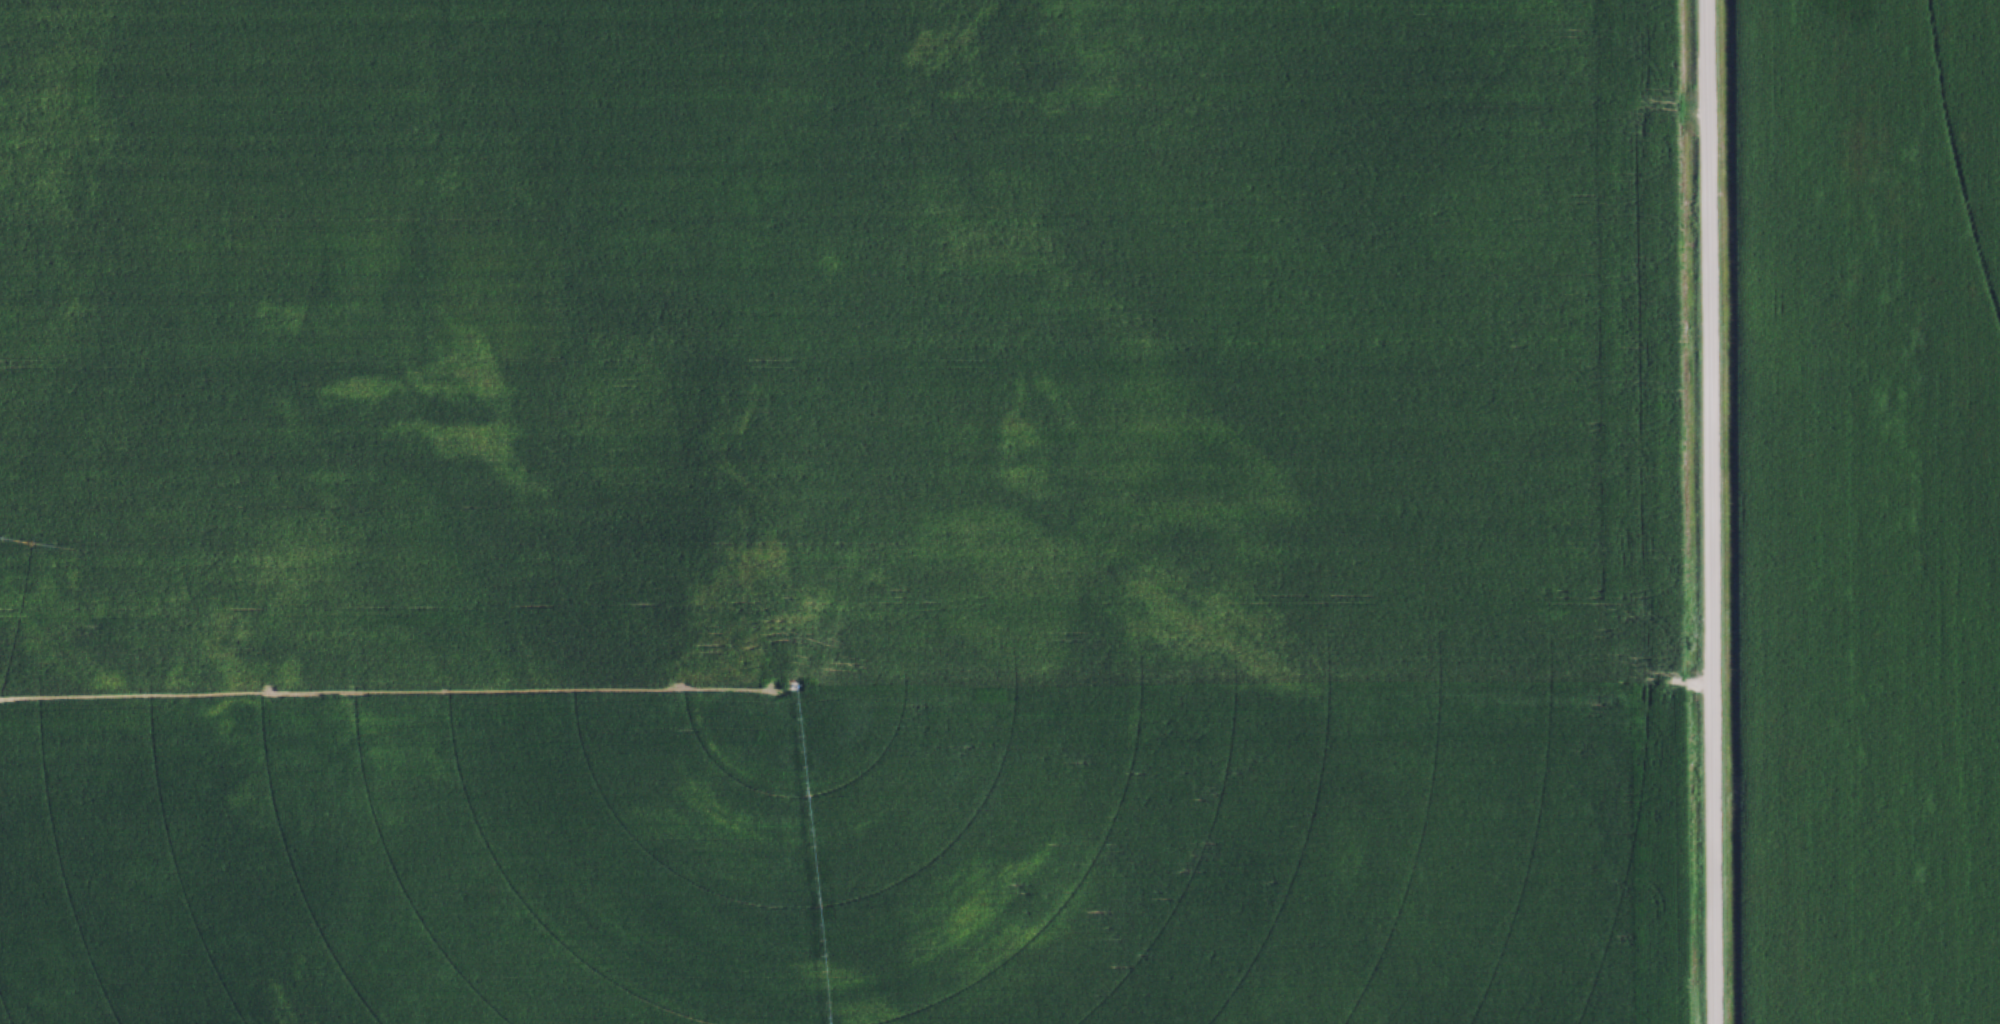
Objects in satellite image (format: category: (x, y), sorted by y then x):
road: (1709, 512)

